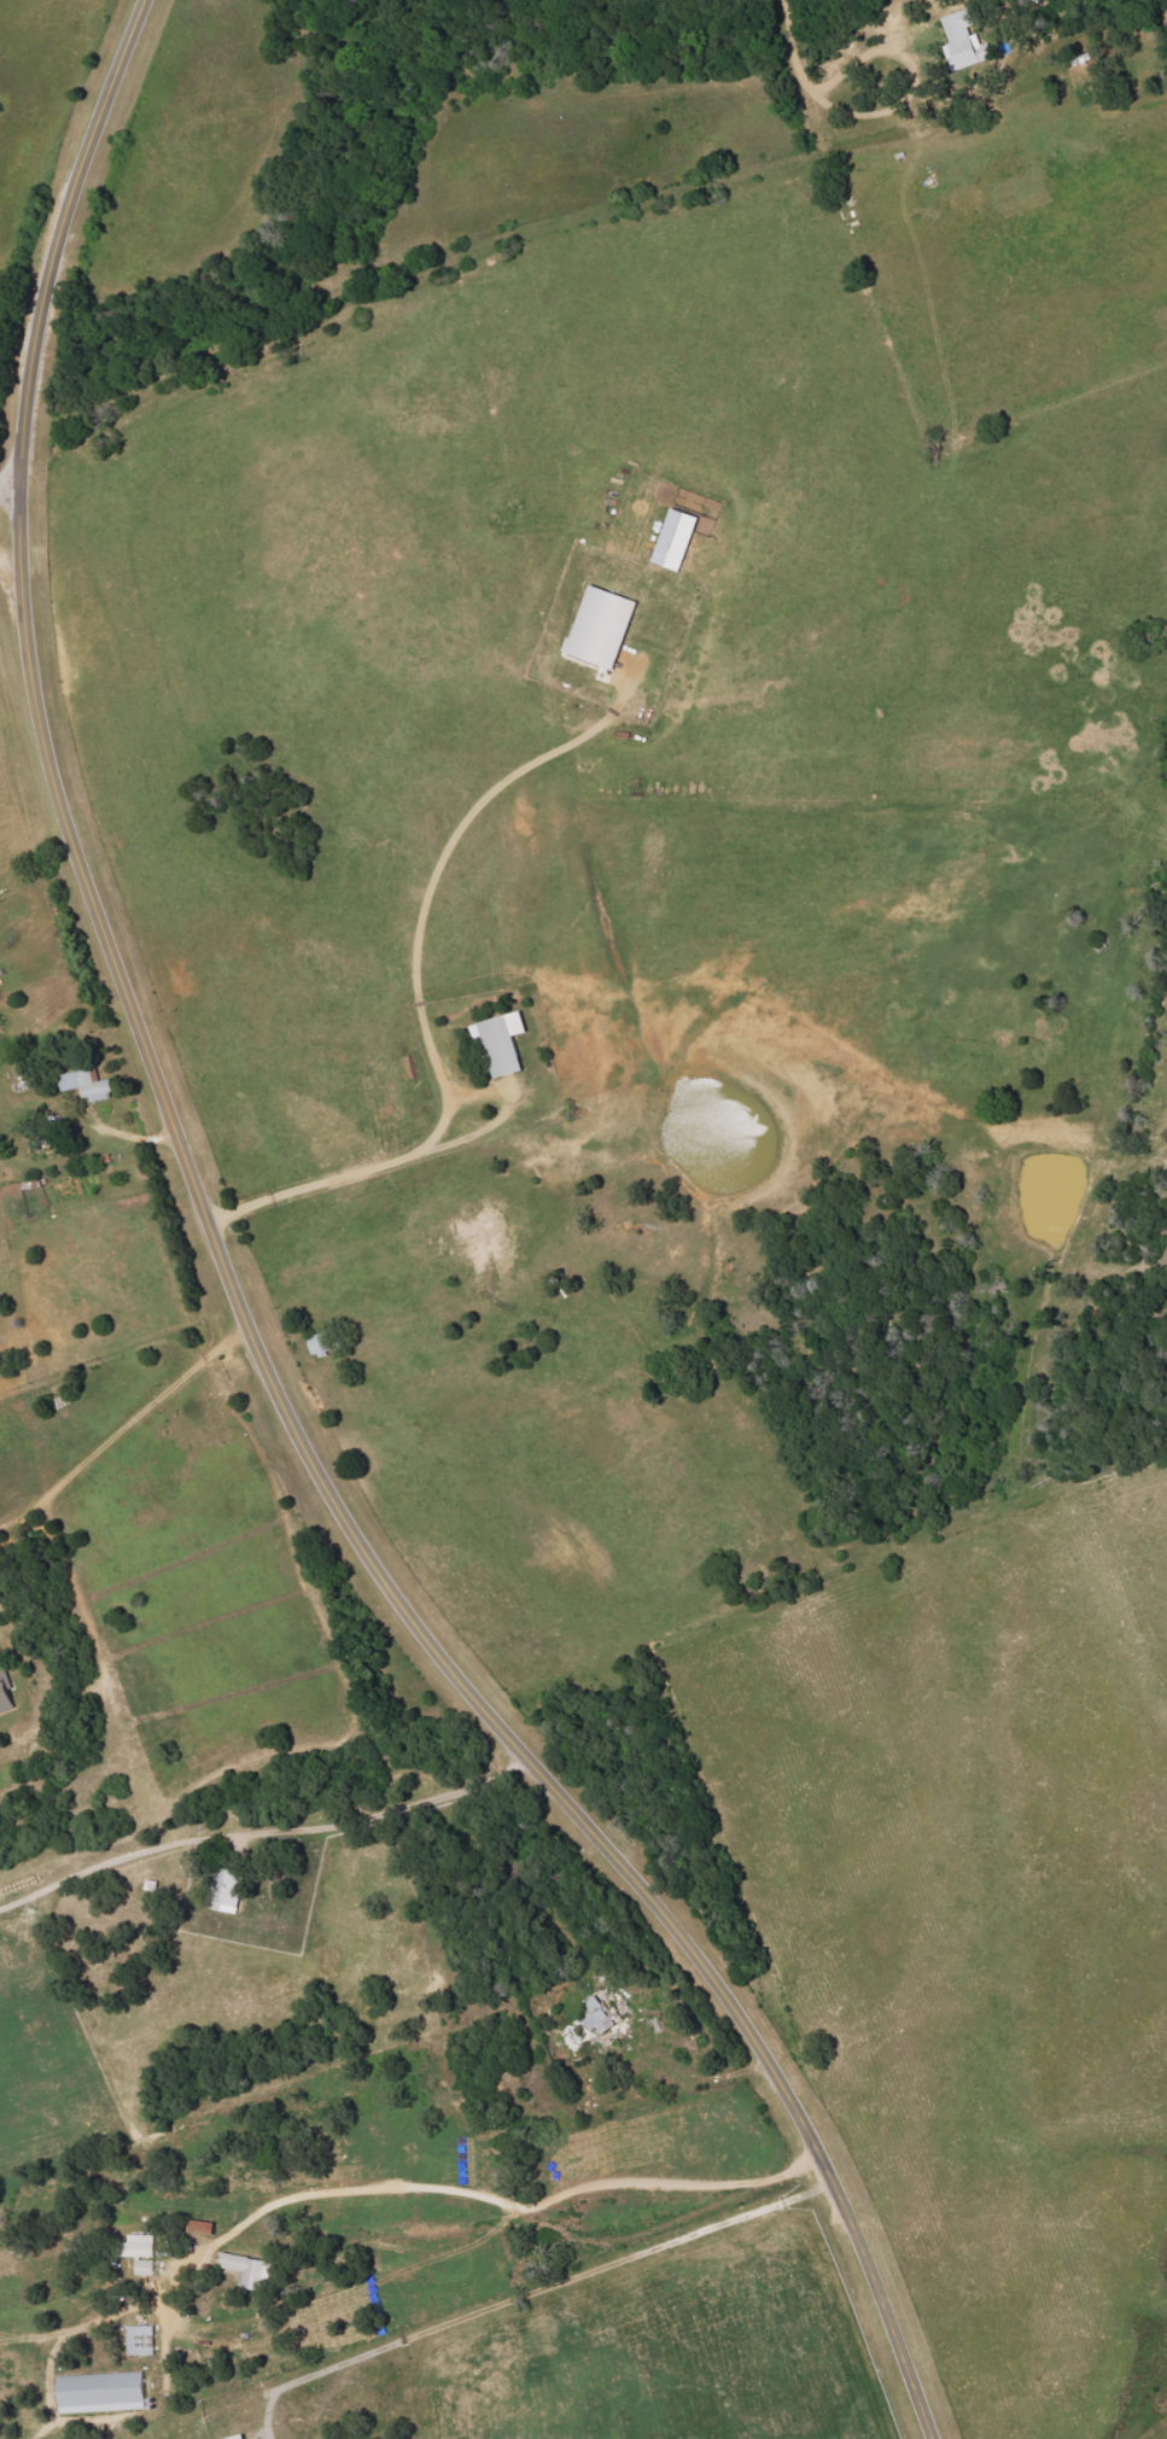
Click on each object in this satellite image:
building: (965, 42)
road: (790, 54)
road: (13, 468)
building: (679, 539)
road: (14, 587)
building: (605, 628)
road: (432, 882)
building: (504, 1041)
building: (89, 1084)
road: (316, 1186)
road: (235, 1296)
building: (321, 1344)
road: (124, 1437)
building: (6, 1693)
road: (263, 1831)
building: (602, 2018)
road: (701, 2078)
road: (480, 2215)
building: (141, 2253)
building: (247, 2270)
road: (552, 2288)
building: (141, 2341)
building: (103, 2391)
building: (241, 2437)

